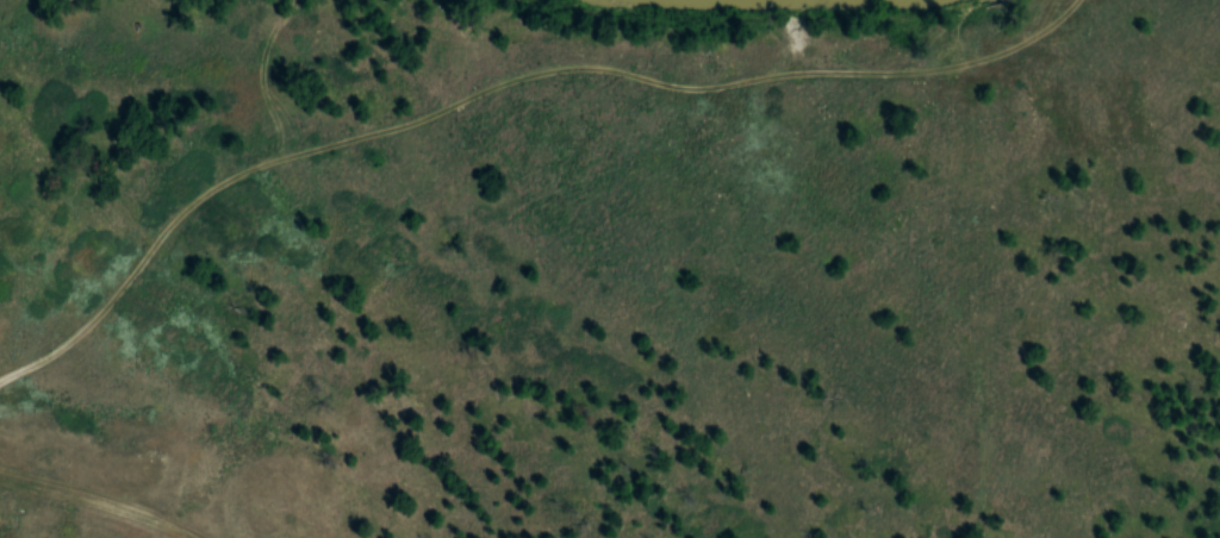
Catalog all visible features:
road: (93, 505)

